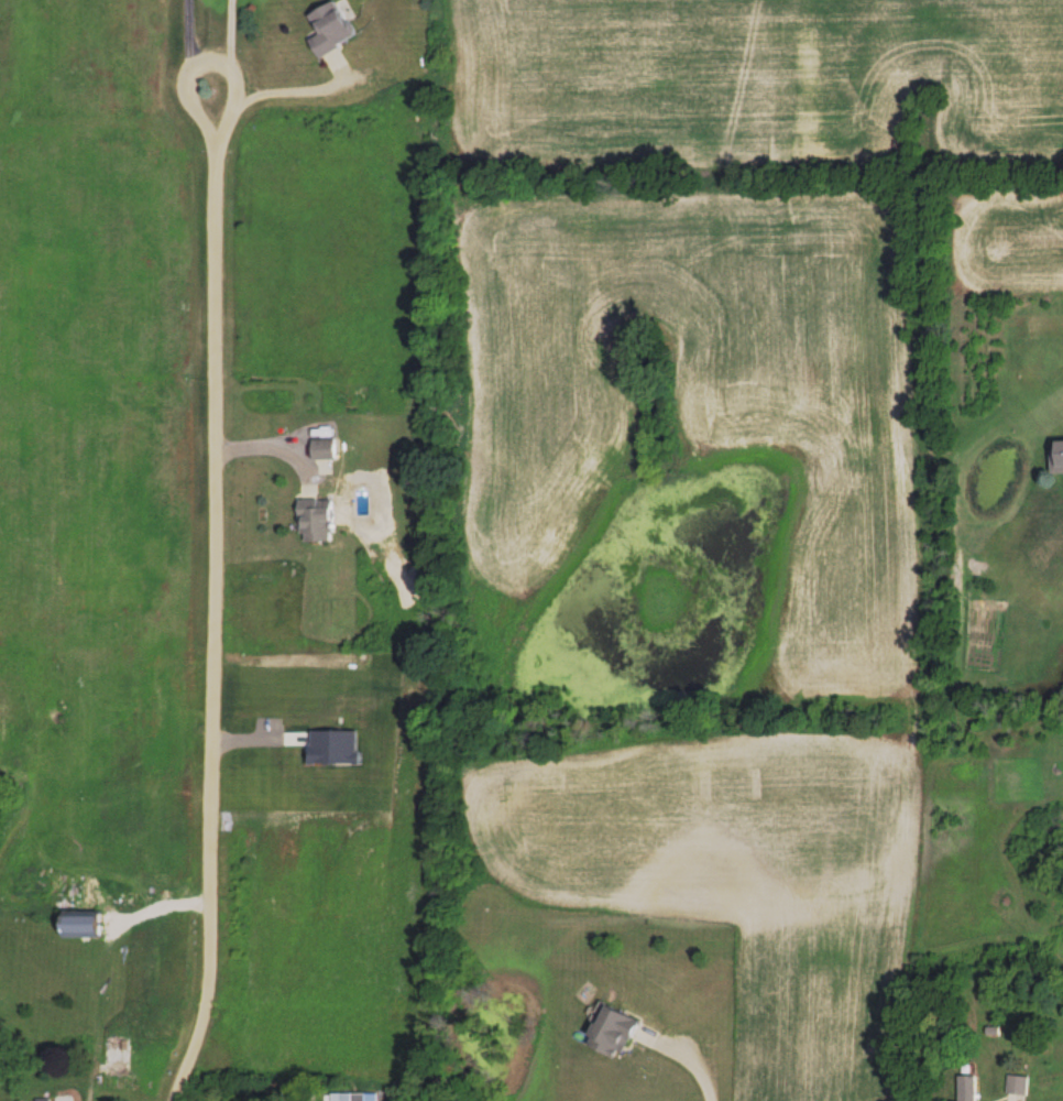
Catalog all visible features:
building: (332, 28)
road: (198, 65)
road: (289, 91)
road: (274, 443)
building: (324, 448)
building: (1057, 458)
building: (317, 519)
road: (218, 553)
building: (336, 746)
building: (84, 923)
building: (614, 1031)
road: (693, 1062)
building: (1017, 1083)
building: (968, 1088)
building: (354, 1097)
building: (46, 1099)

